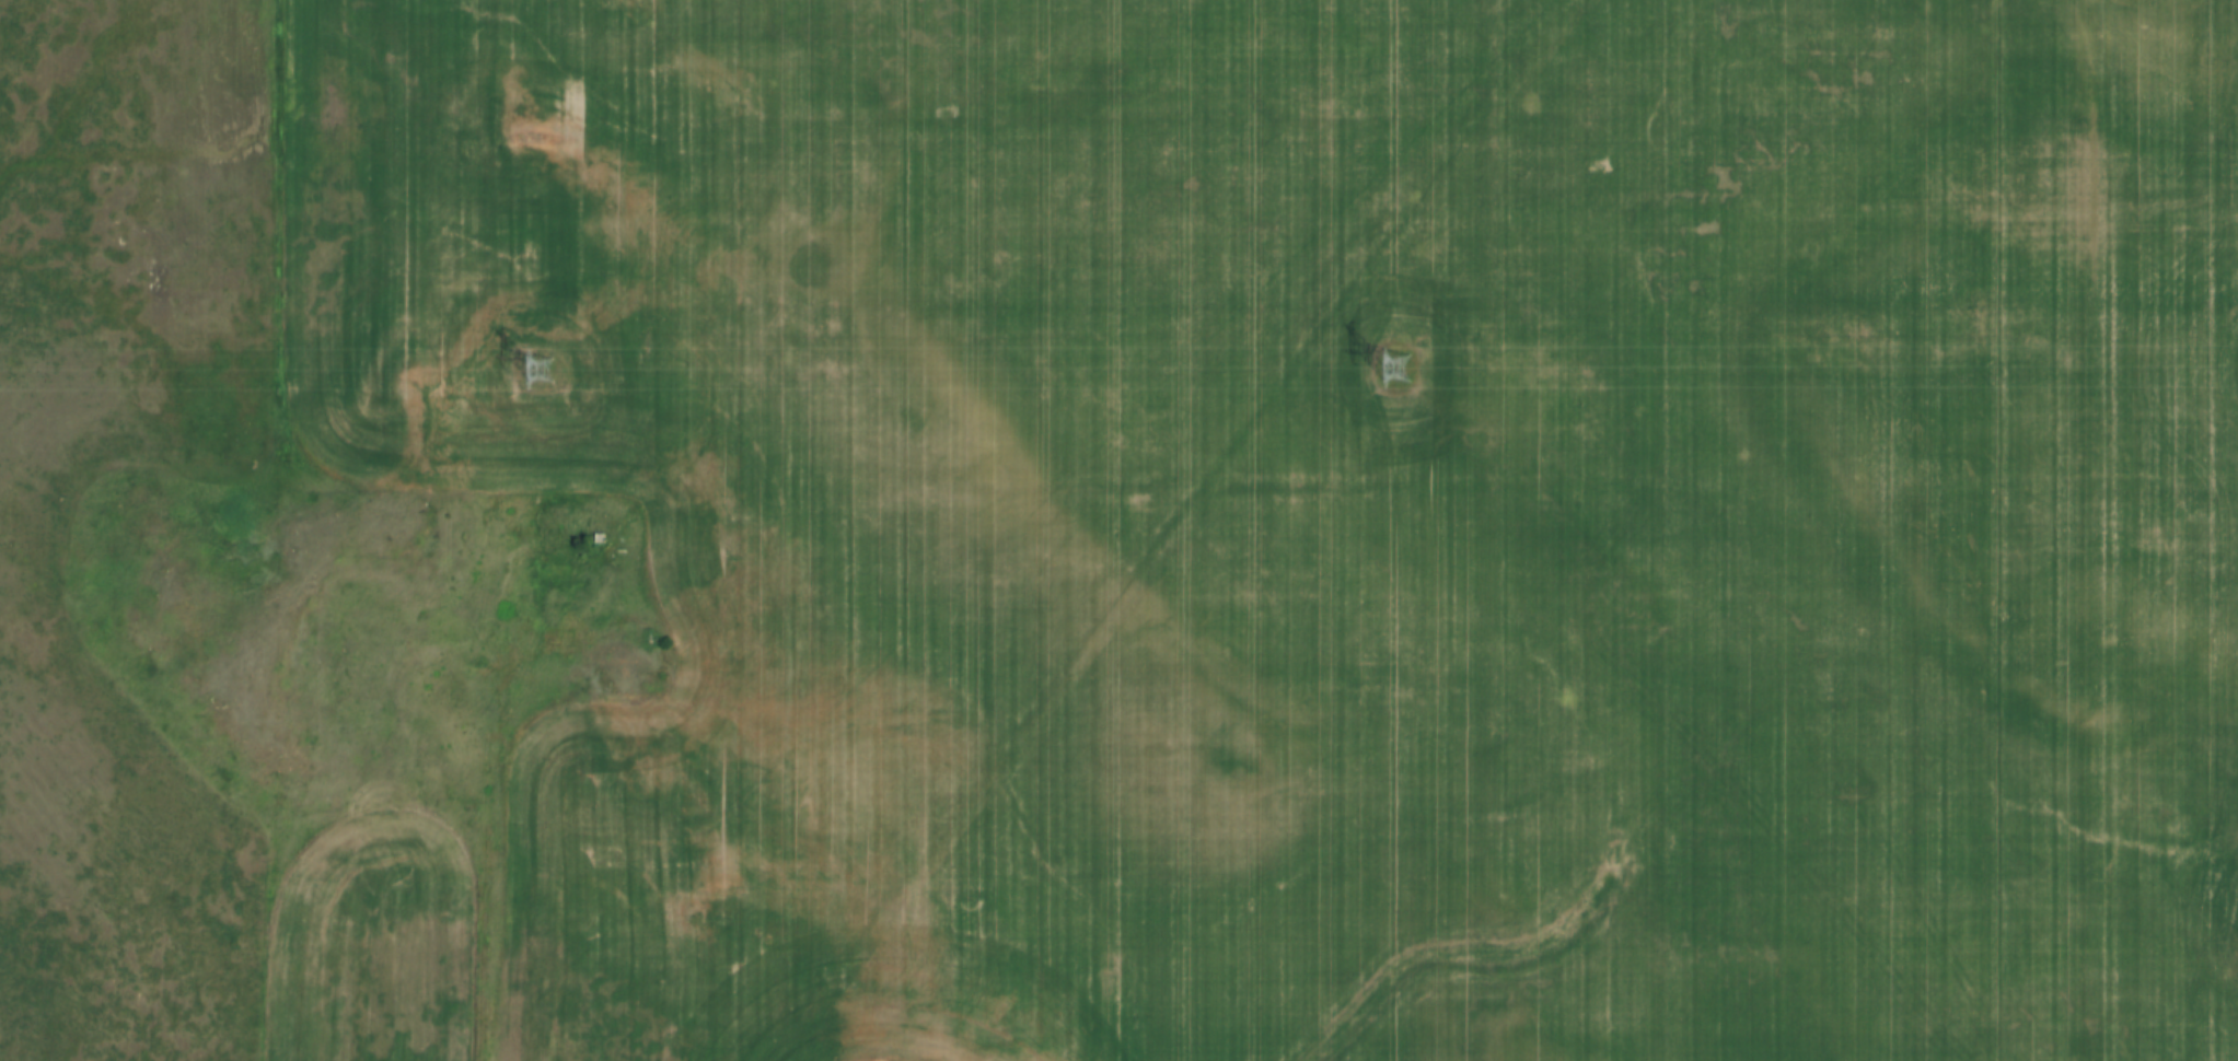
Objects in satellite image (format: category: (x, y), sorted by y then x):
power tower: (1390, 368)
power tower: (538, 369)

